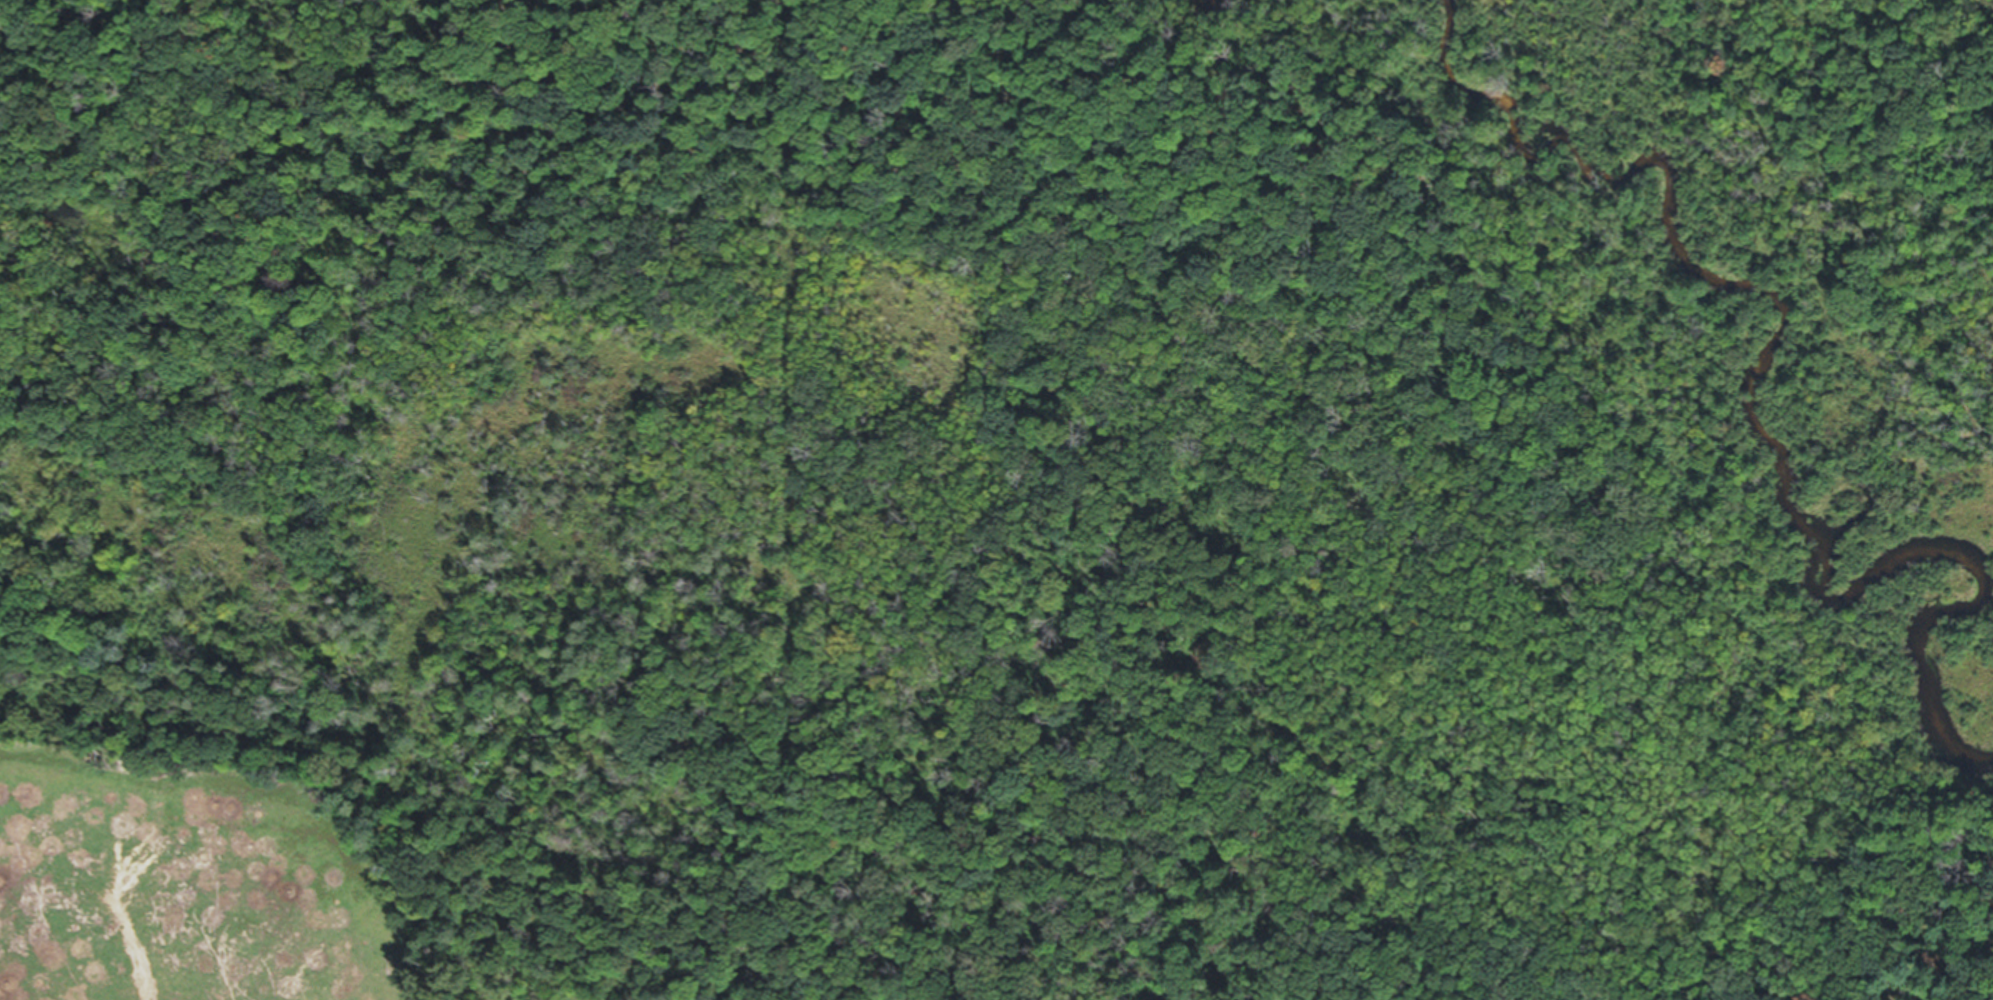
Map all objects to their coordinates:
river: (1949, 748)

